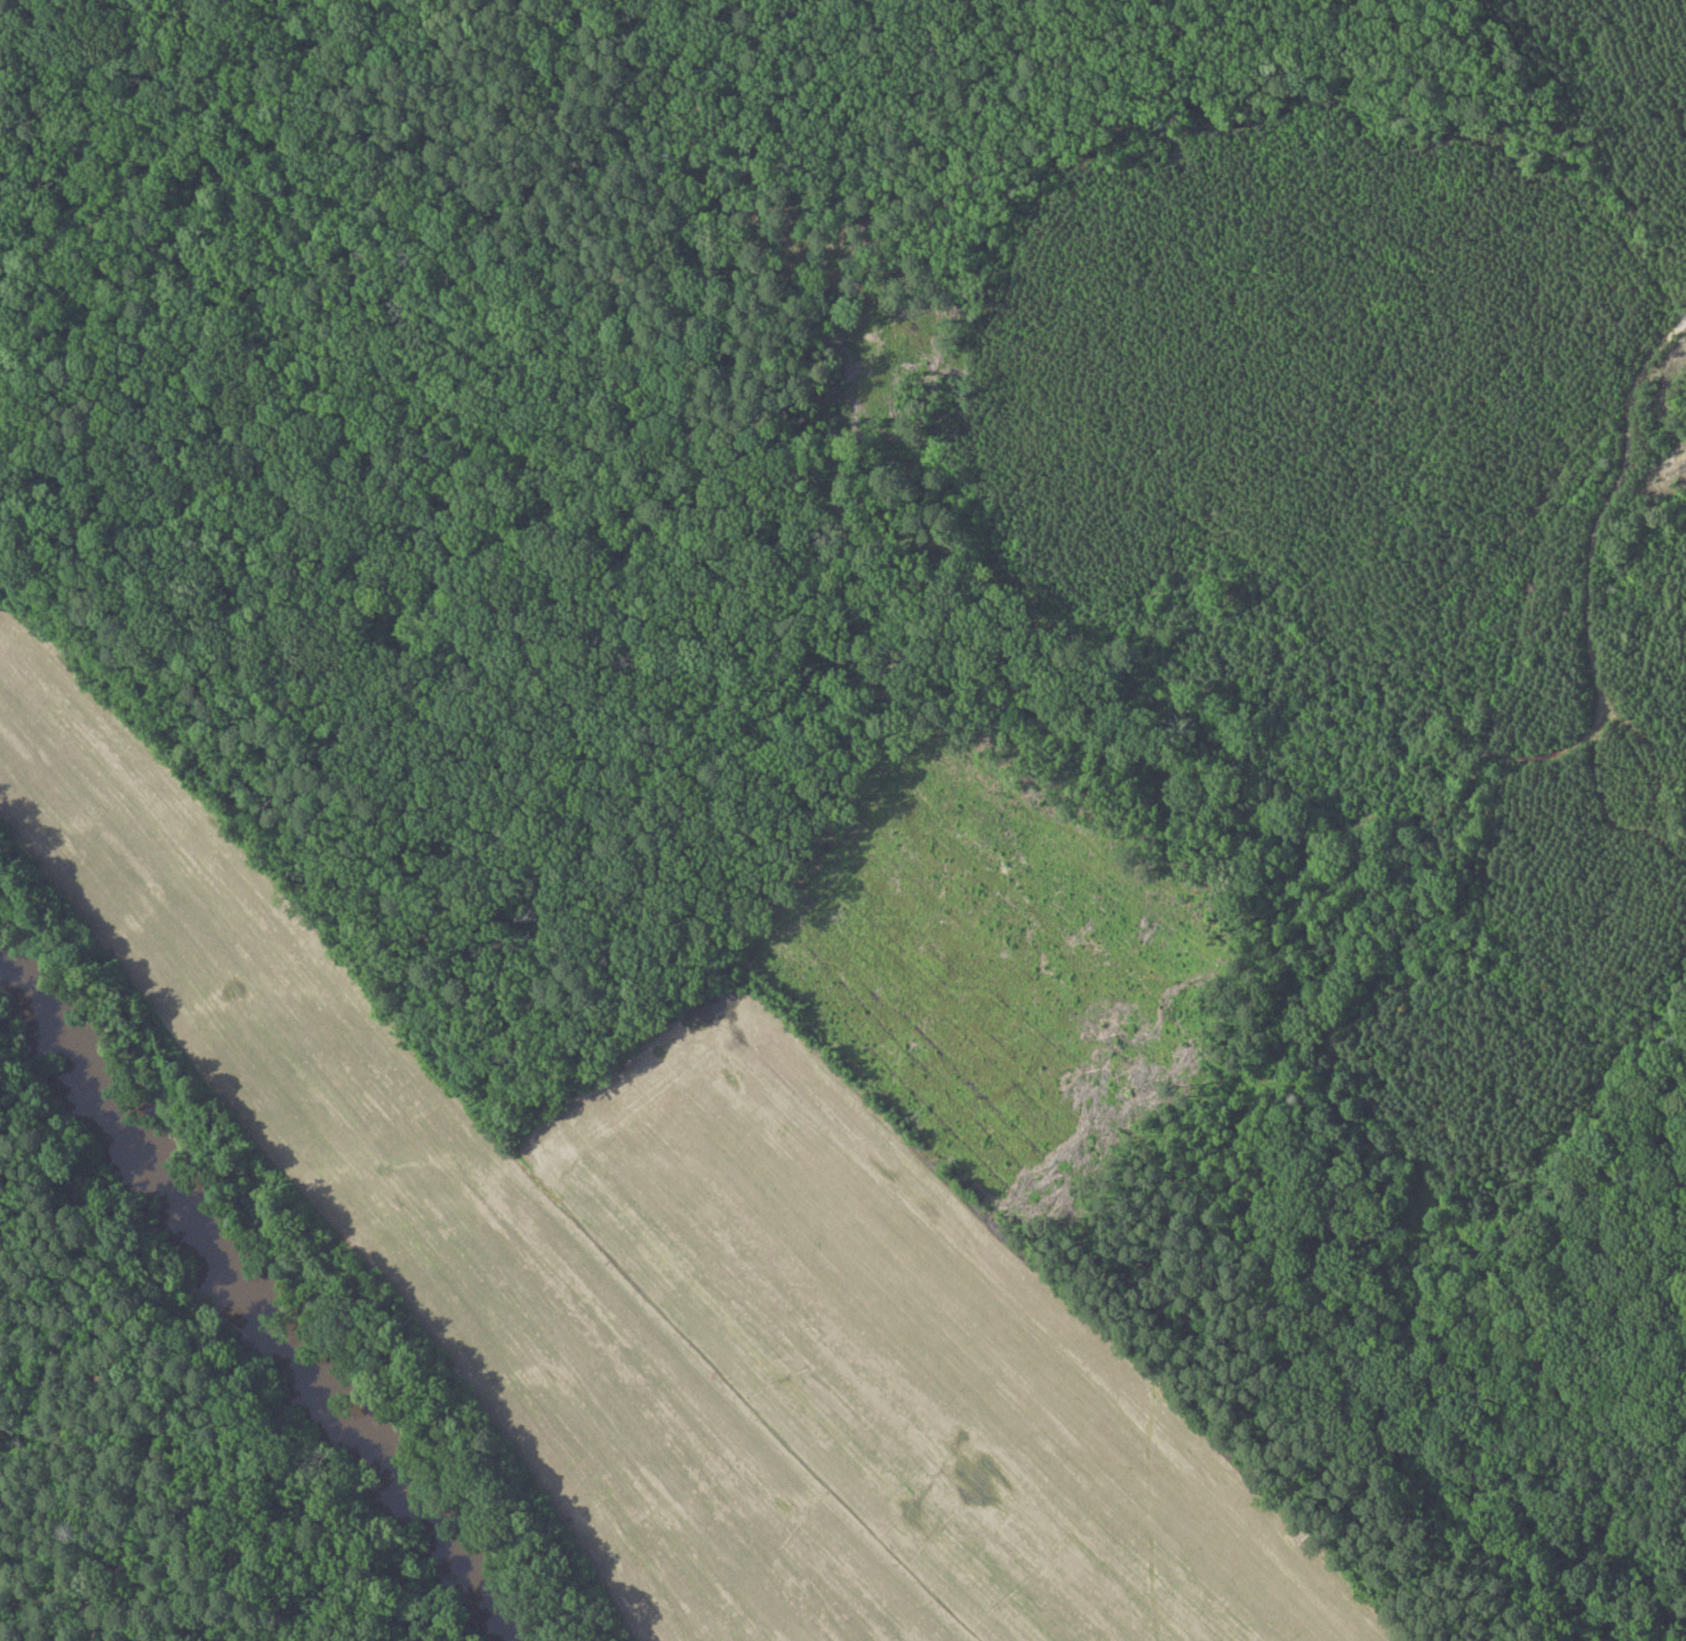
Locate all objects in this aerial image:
river: (260, 1300)

